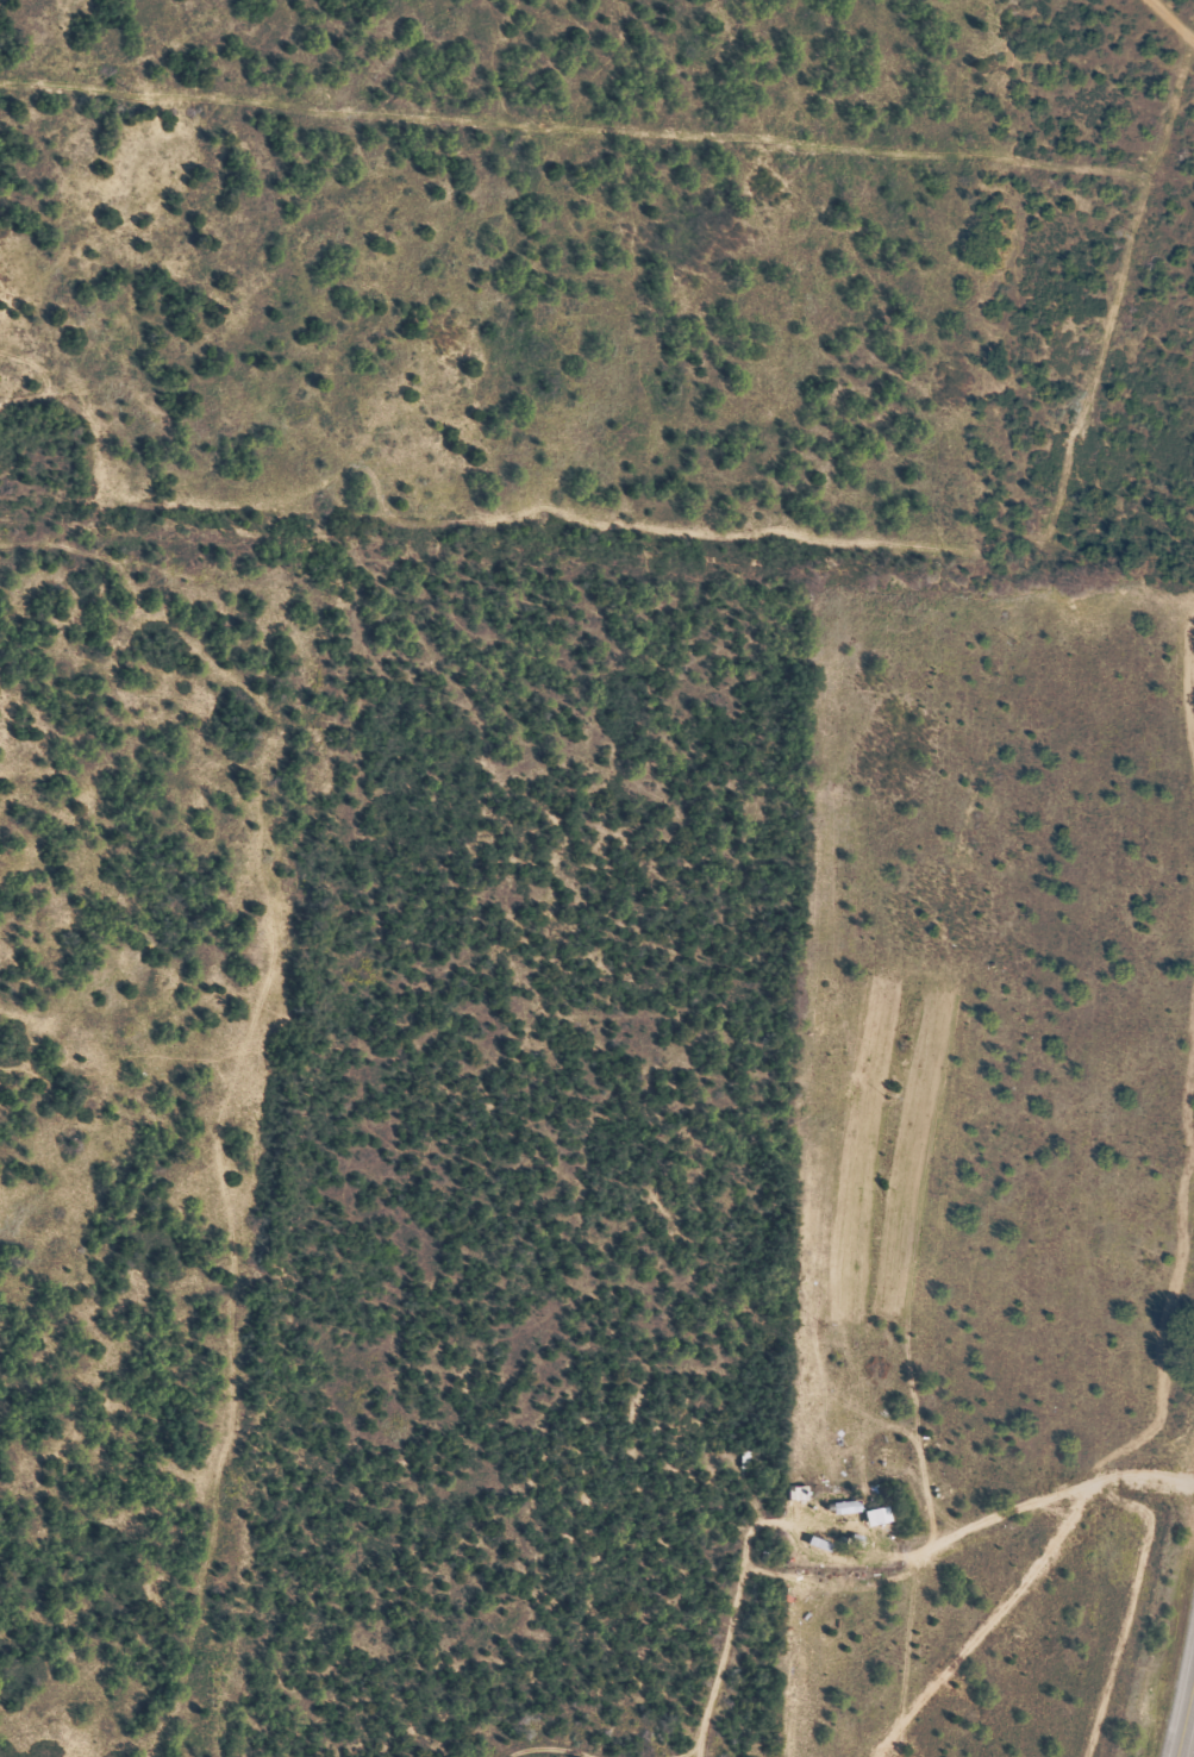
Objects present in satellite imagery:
building: (876, 1514)
road: (1184, 1720)

